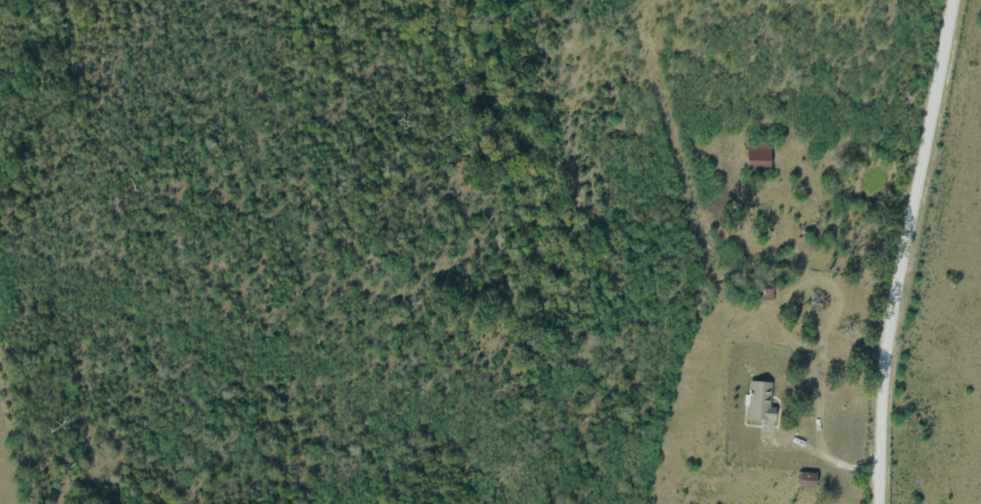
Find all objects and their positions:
road: (902, 250)
building: (764, 404)

